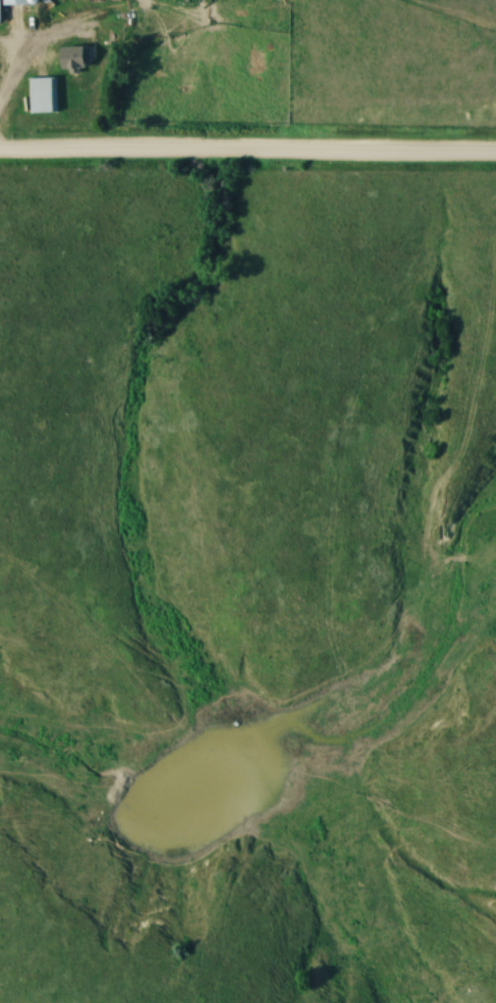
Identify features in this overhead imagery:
building: (14, 2)
building: (73, 58)
road: (17, 73)
building: (42, 95)
road: (247, 153)

